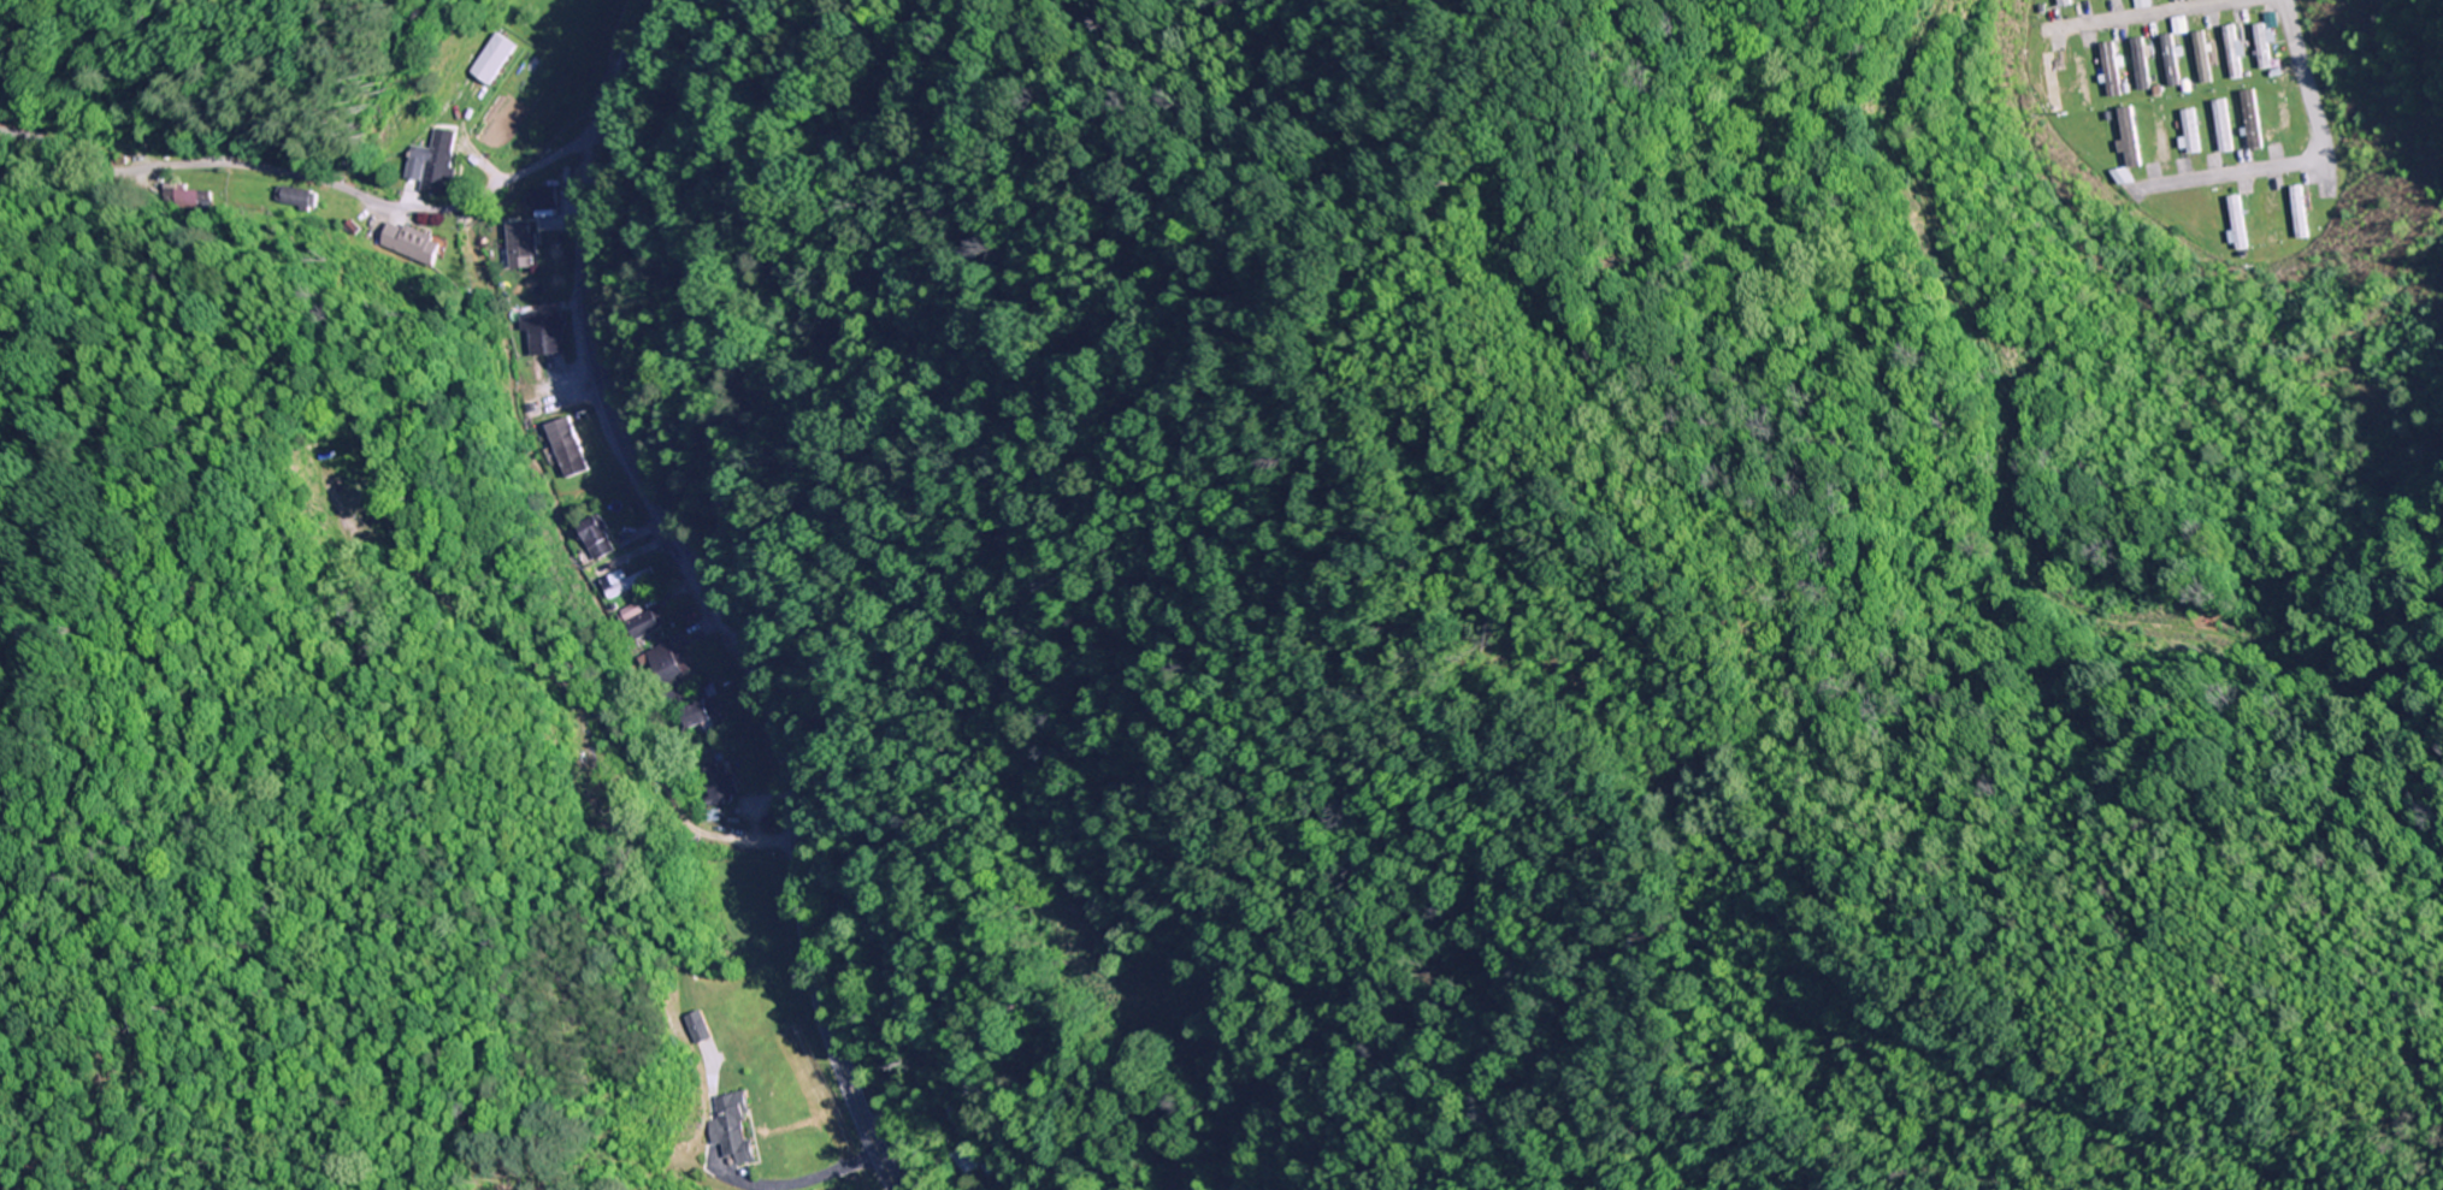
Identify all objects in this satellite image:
building: (2064, 2)
building: (2143, 4)
road: (2136, 16)
building: (2264, 42)
building: (2233, 51)
building: (2203, 54)
building: (2172, 58)
building: (492, 60)
building: (2143, 60)
building: (2113, 67)
building: (2082, 77)
building: (2052, 81)
road: (2311, 97)
building: (2284, 113)
building: (2252, 119)
building: (2223, 124)
building: (2190, 131)
building: (2160, 134)
building: (2130, 136)
building: (433, 165)
road: (2227, 173)
road: (314, 184)
building: (544, 199)
building: (2299, 209)
building: (2268, 219)
building: (2237, 223)
building: (419, 245)
building: (523, 247)
building: (547, 337)
building: (567, 449)
building: (592, 537)
building: (616, 584)
road: (714, 592)
building: (641, 624)
building: (667, 665)
road: (667, 793)
building: (601, 811)
building: (731, 1126)
building: (972, 1158)

